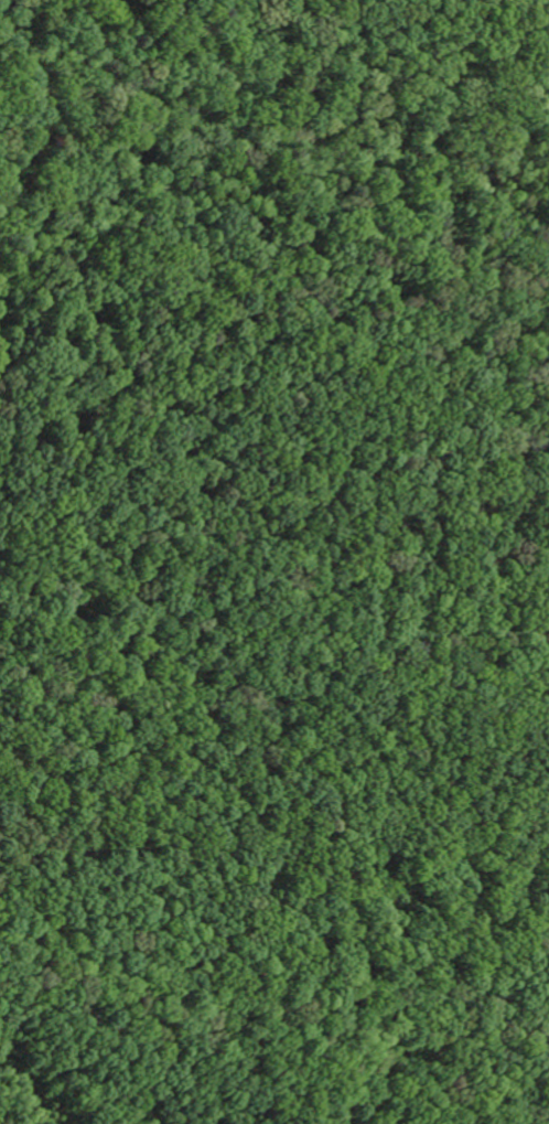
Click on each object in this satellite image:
road: (4, 2)

